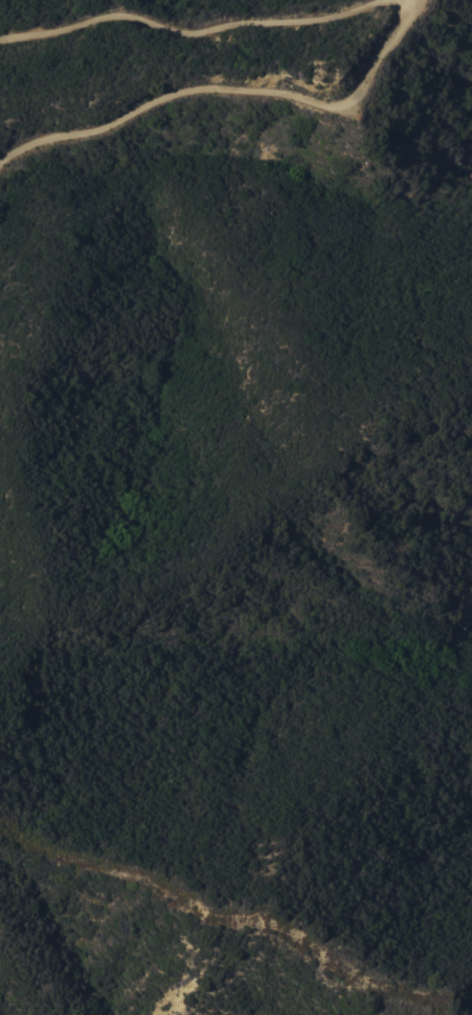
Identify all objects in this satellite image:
road: (395, 39)

